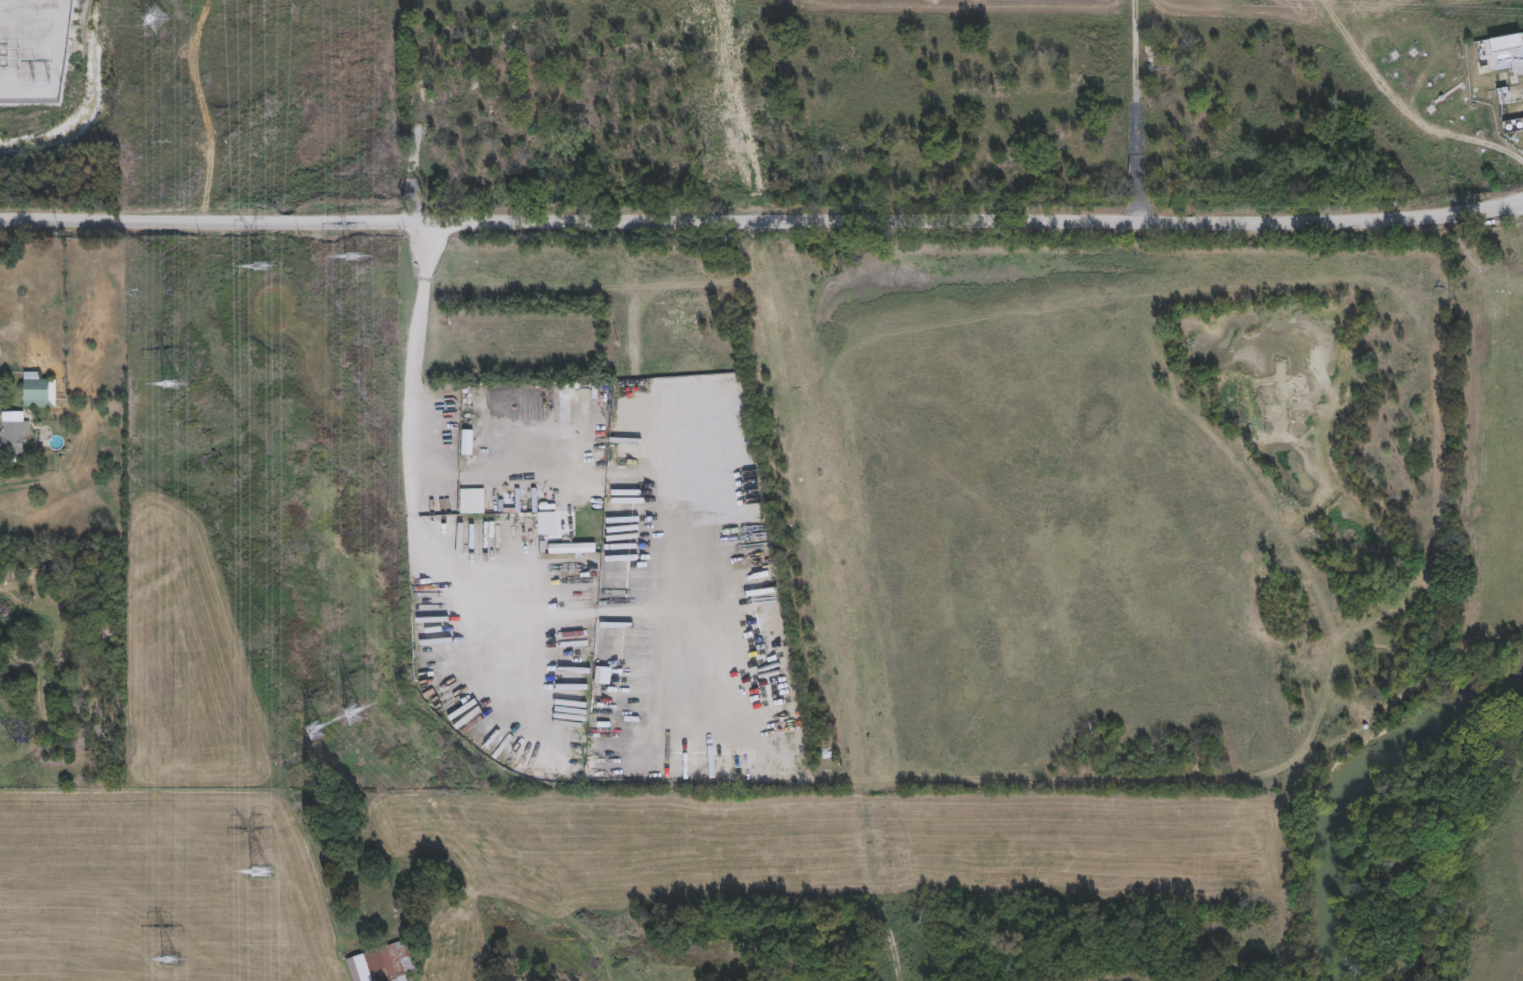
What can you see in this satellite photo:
power tower: (156, 18)
power substation: (33, 49)
power tower: (46, 81)
road: (1132, 111)
building: (1514, 127)
road: (762, 219)
power tower: (352, 256)
power tower: (262, 266)
power tower: (174, 385)
building: (38, 389)
building: (11, 433)
road: (410, 447)
road: (653, 494)
power tower: (354, 714)
power tower: (315, 728)
power tower: (263, 874)
power tower: (171, 959)
building: (382, 964)

